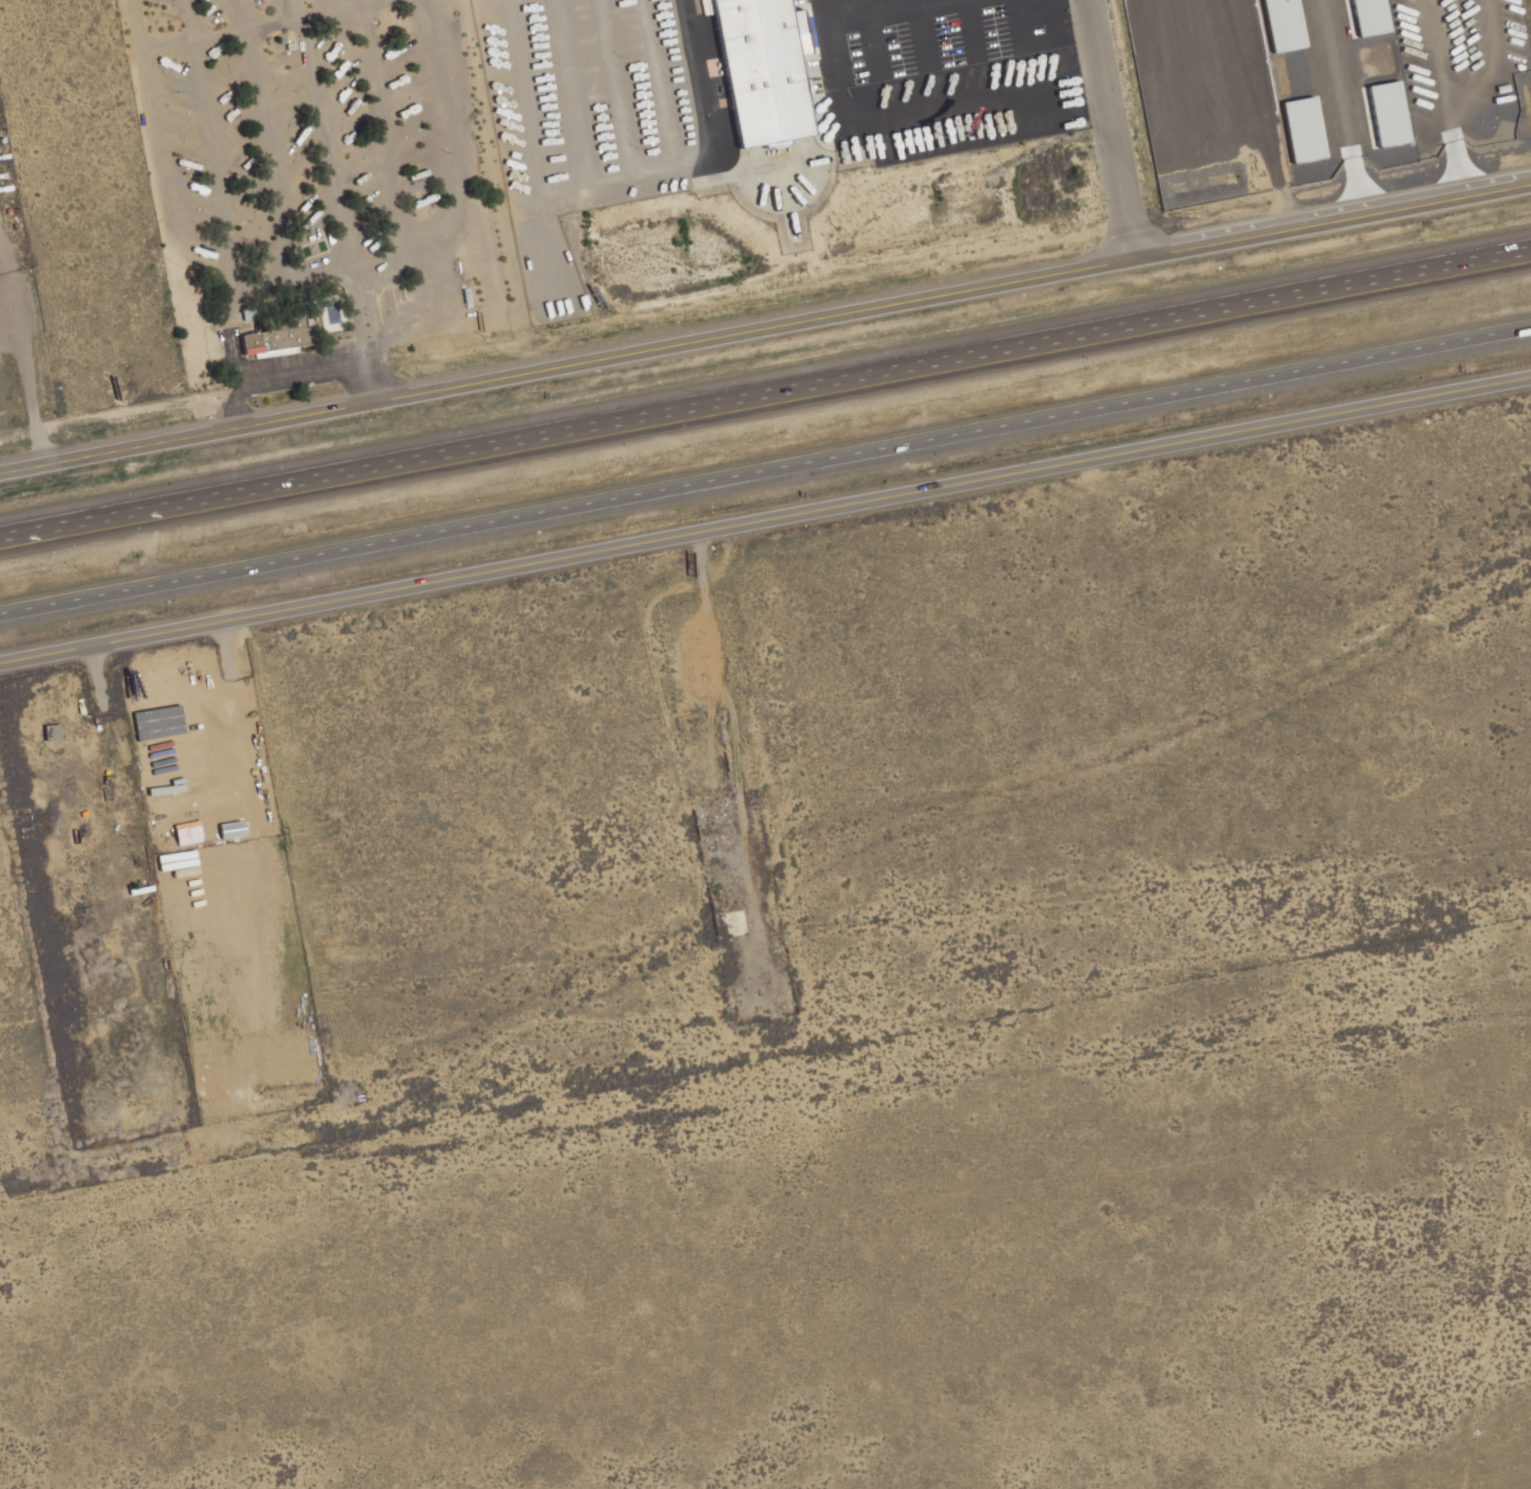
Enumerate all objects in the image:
building: (1367, 17)
building: (1280, 25)
building: (1231, 68)
building: (760, 70)
parking lot: (1468, 71)
building: (1156, 75)
road: (691, 78)
road: (1268, 90)
building: (1385, 114)
road: (1109, 126)
building: (1299, 130)
flagpole: (943, 137)
road: (1289, 200)
road: (889, 299)
building: (331, 313)
road: (1075, 331)
road: (369, 335)
building: (279, 337)
road: (27, 369)
road: (287, 377)
road: (123, 447)
road: (765, 468)
road: (309, 474)
road: (764, 514)
building: (50, 733)
building: (723, 919)

